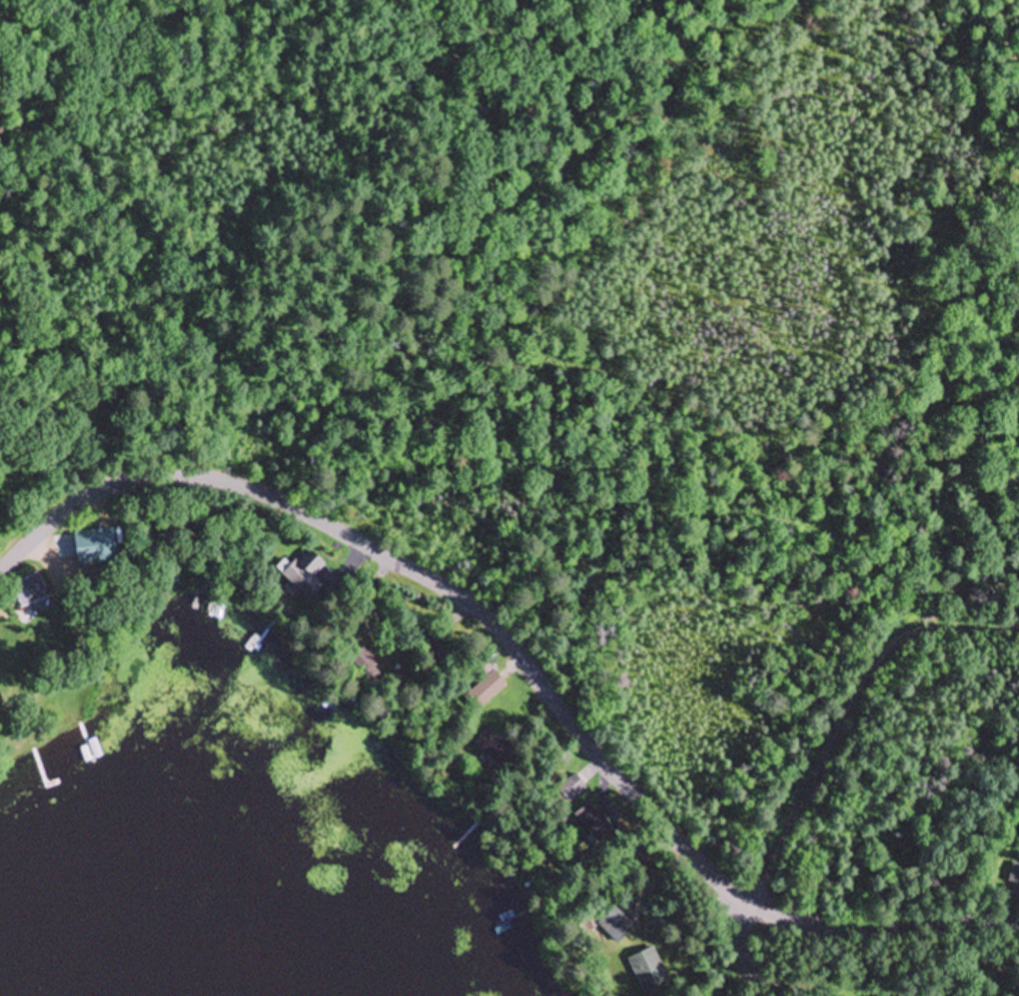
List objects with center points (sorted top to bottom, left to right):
building: (96, 547)
building: (306, 576)
building: (30, 592)
building: (980, 600)
building: (257, 639)
building: (363, 661)
road: (521, 663)
building: (486, 691)
road: (854, 717)
building: (492, 748)
building: (571, 790)
building: (616, 926)
road: (742, 943)
building: (647, 971)

